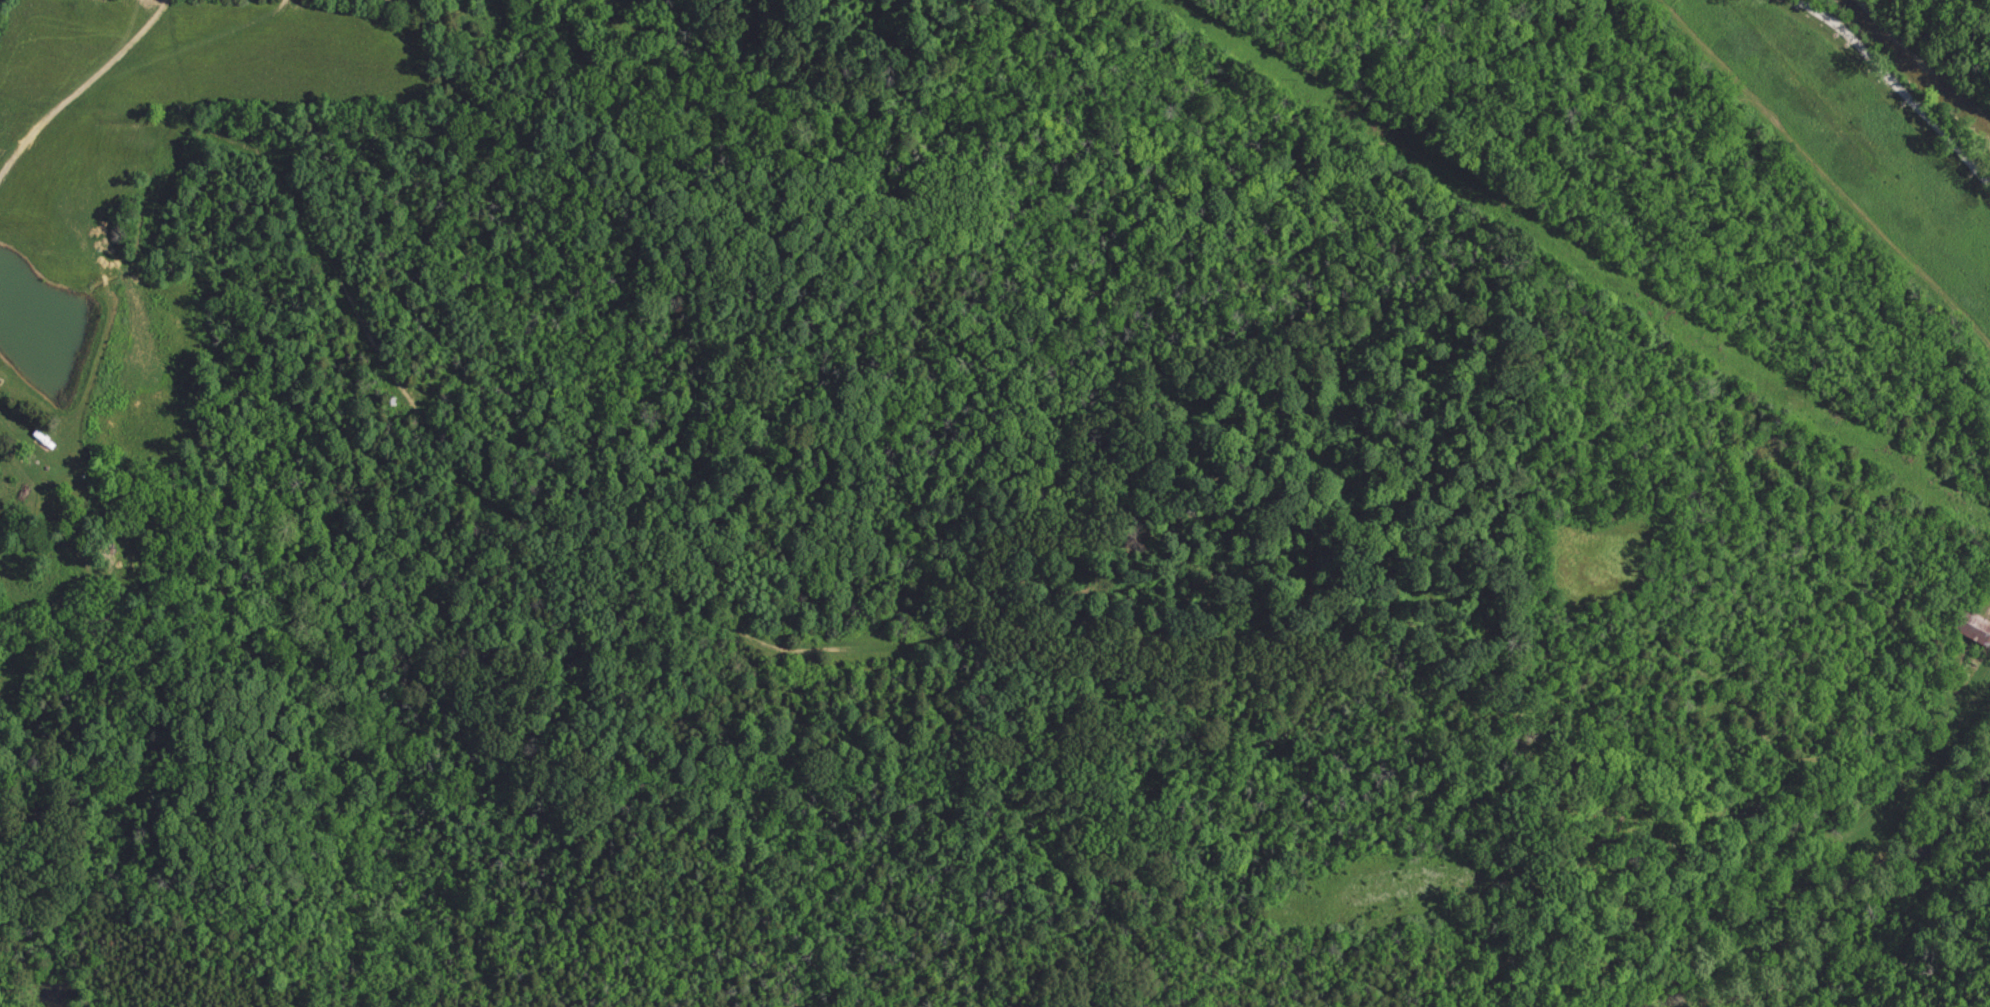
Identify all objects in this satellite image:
road: (1898, 85)
building: (1975, 627)

